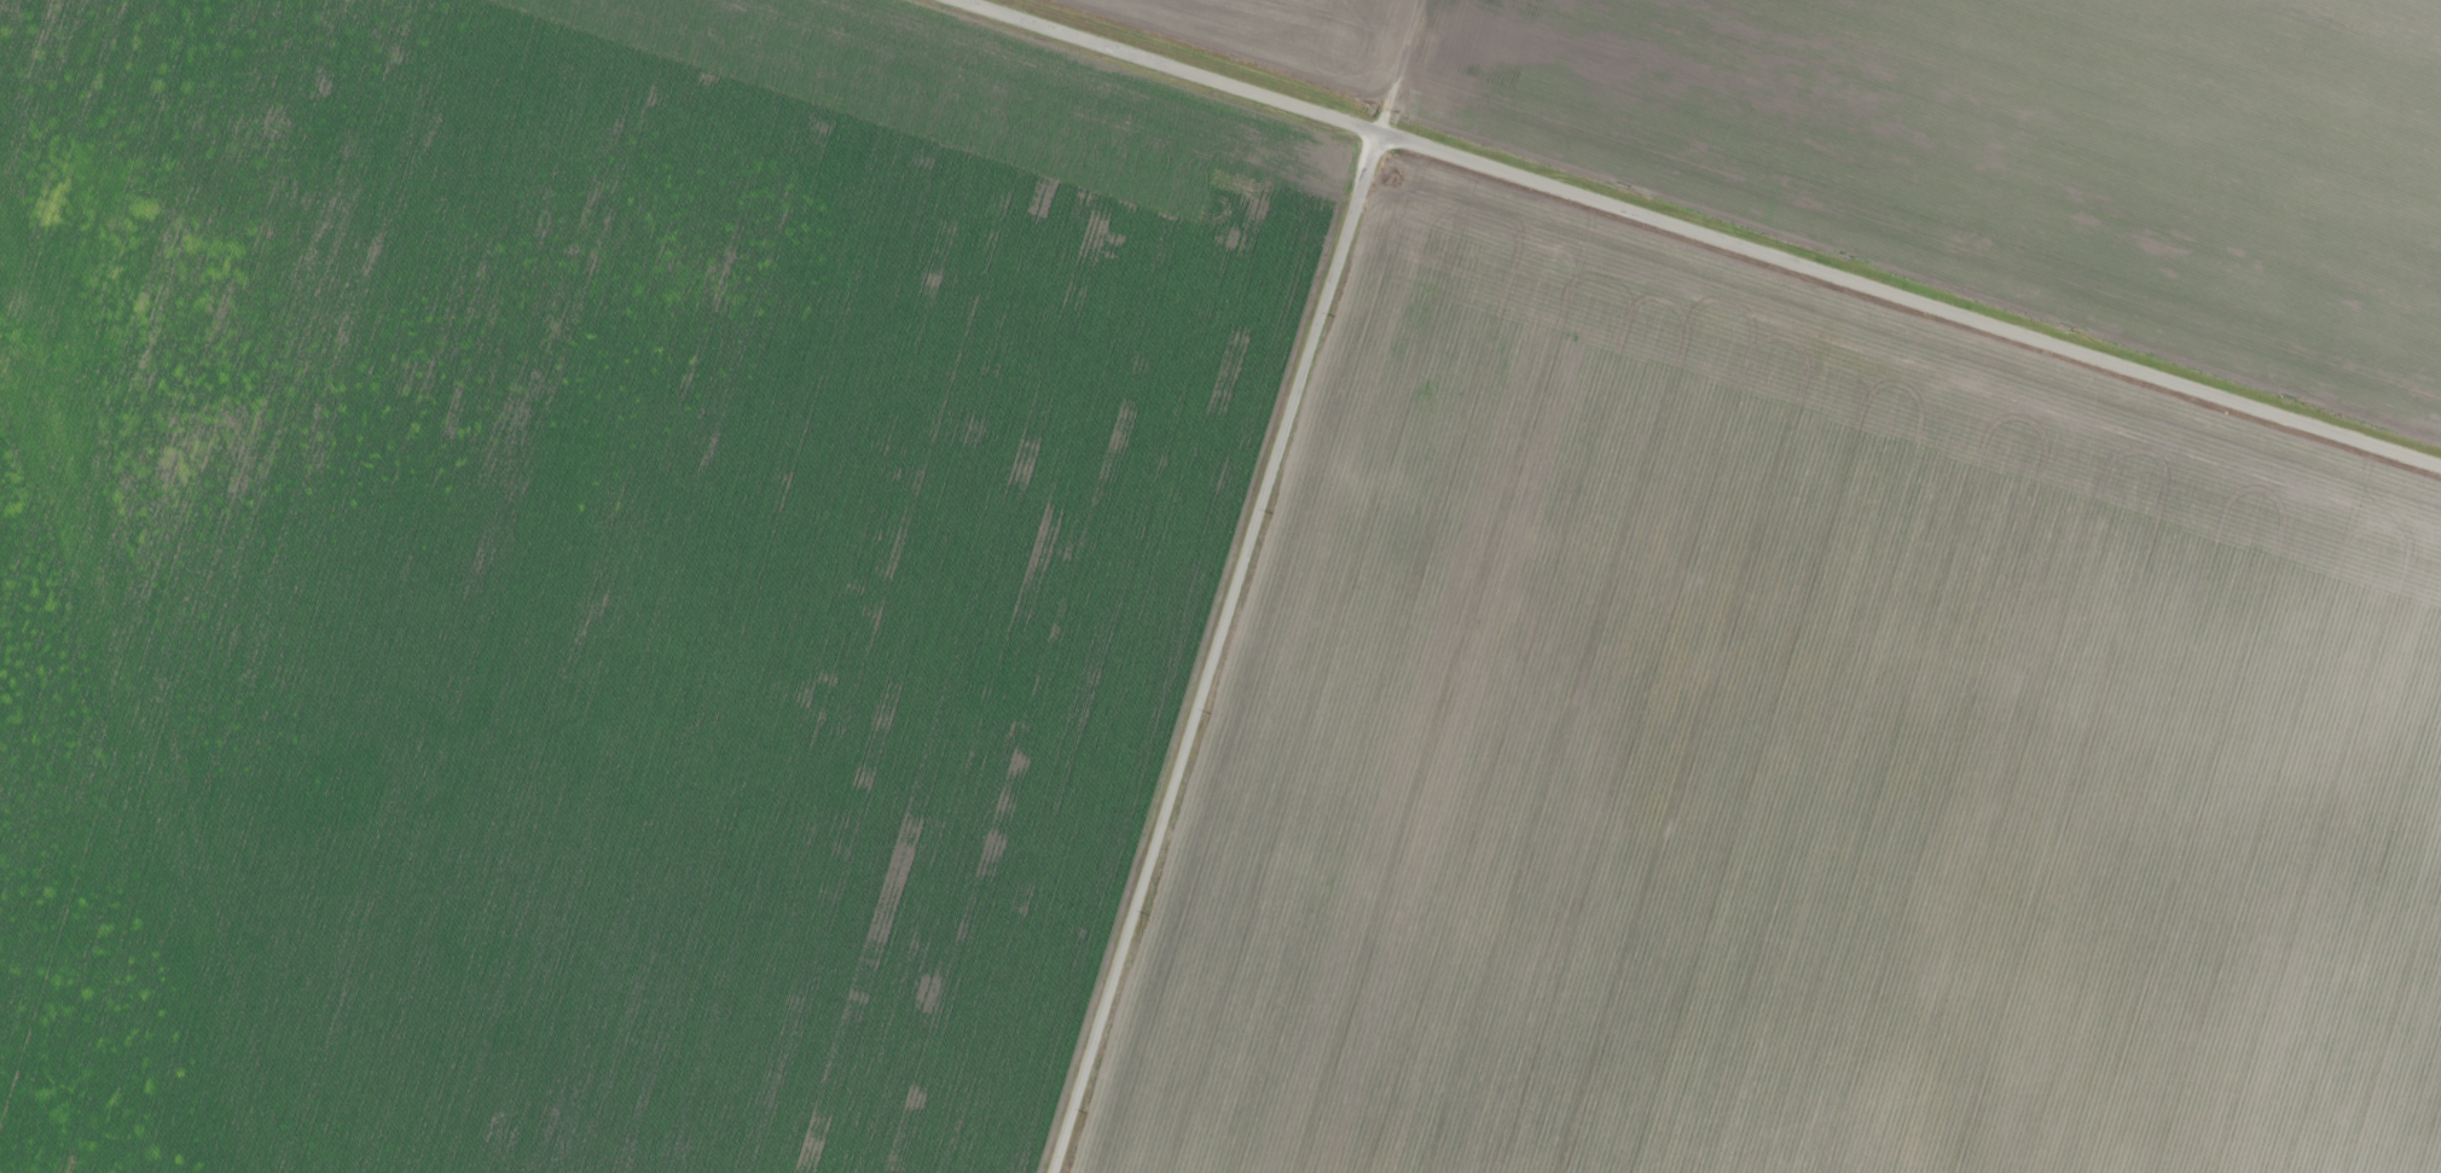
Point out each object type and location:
road: (1738, 222)
road: (1217, 586)

